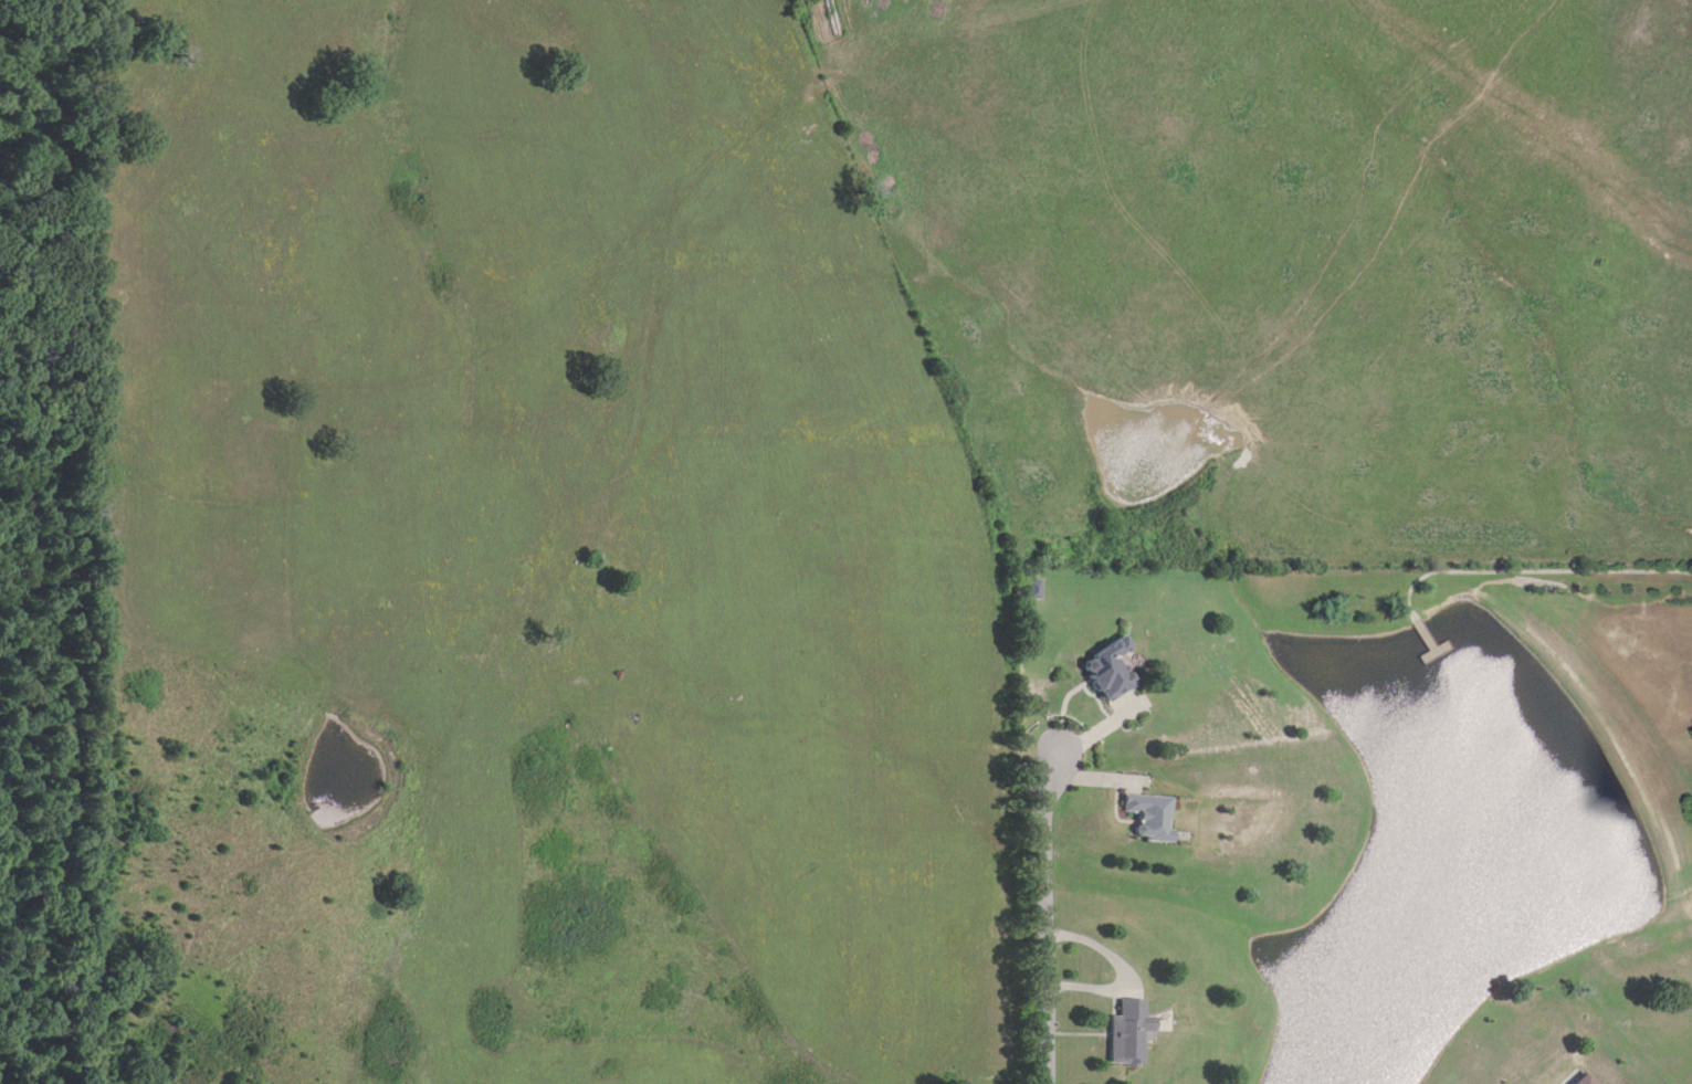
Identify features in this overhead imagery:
road: (1541, 571)
building: (1032, 589)
building: (1111, 671)
building: (1149, 815)
road: (51, 883)
road: (1047, 916)
building: (1129, 1033)
building: (1585, 1080)

